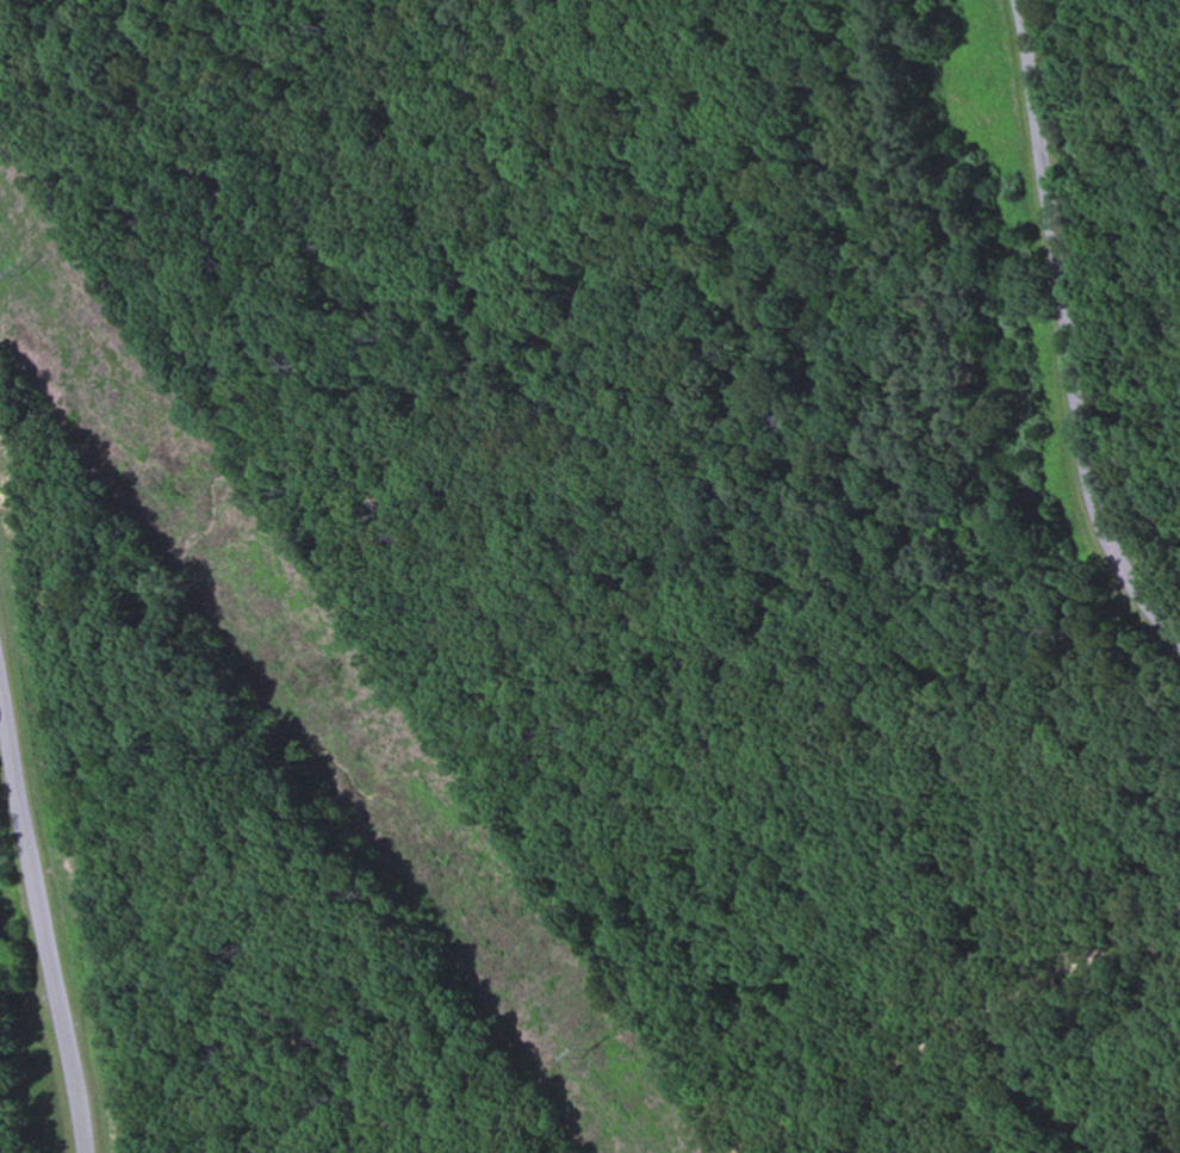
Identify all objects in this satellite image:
power tower: (31, 275)
road: (1067, 330)
road: (42, 900)
road: (954, 1036)

